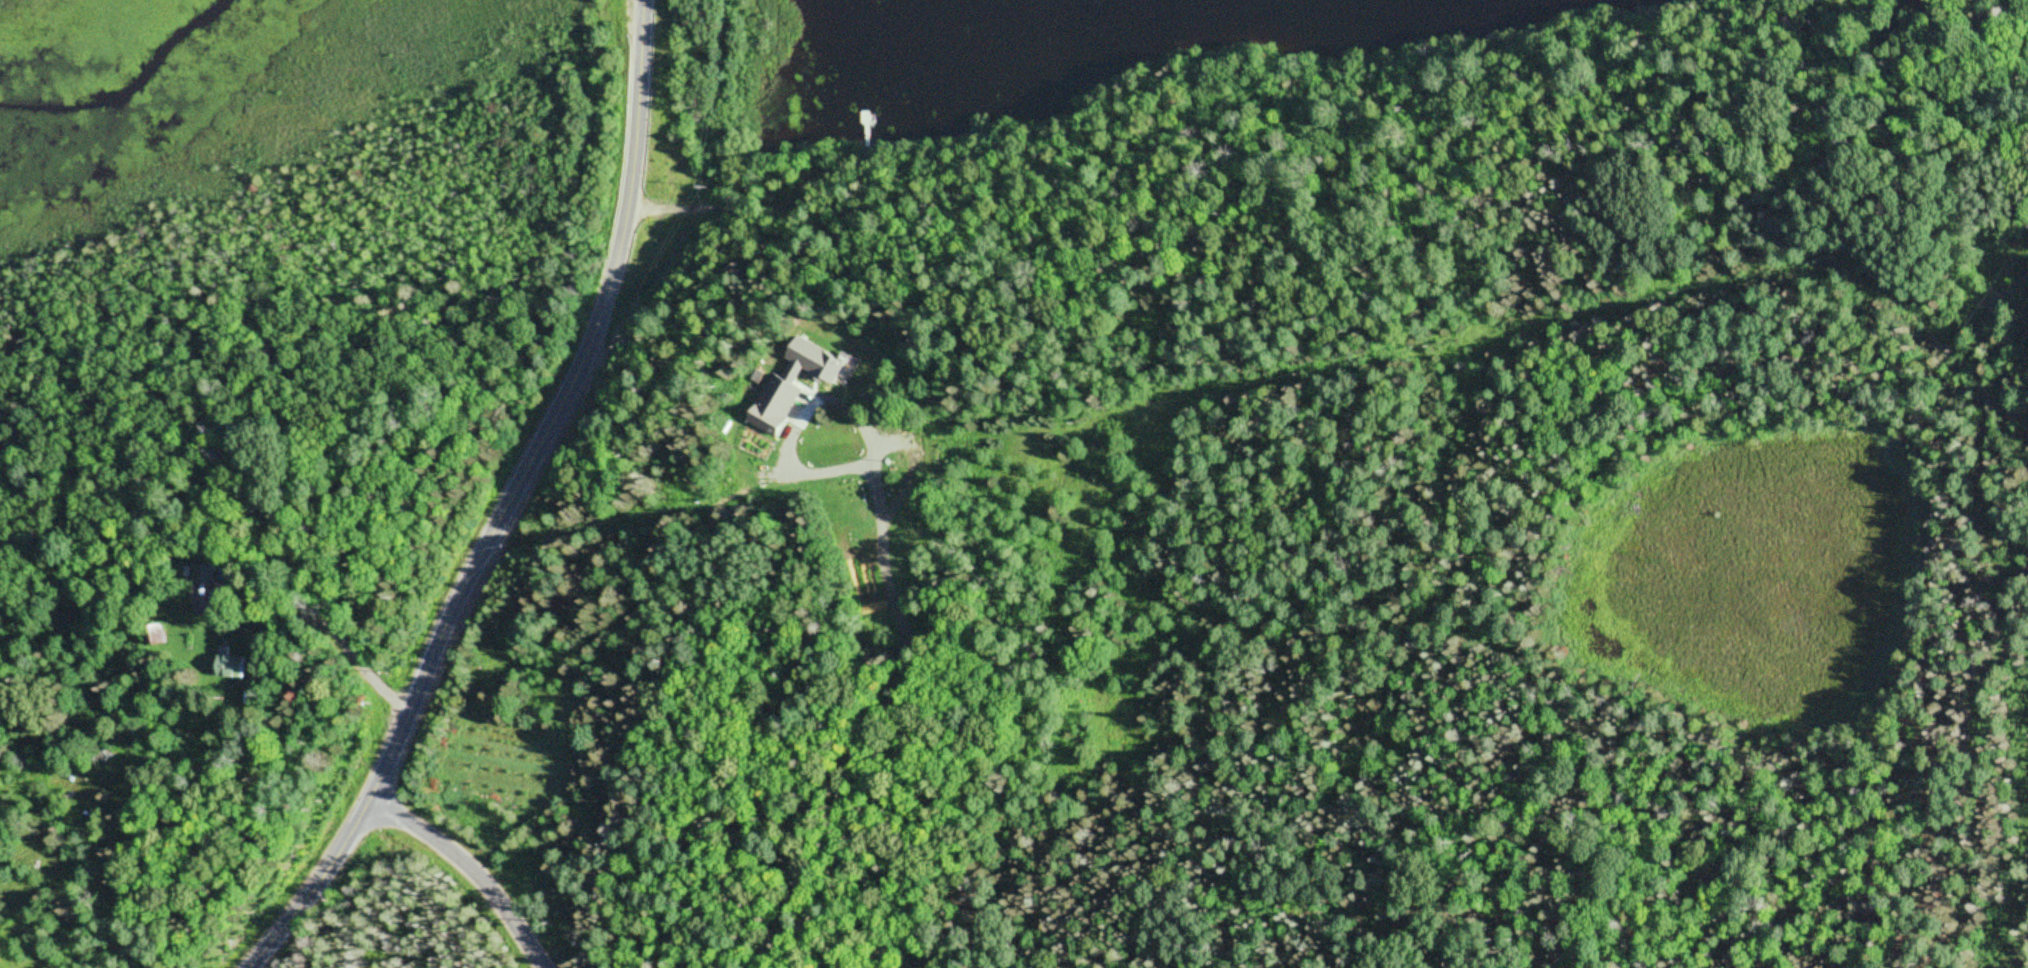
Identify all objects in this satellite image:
building: (784, 403)
road: (508, 506)
building: (165, 635)
building: (245, 666)
road: (350, 675)
road: (477, 863)

